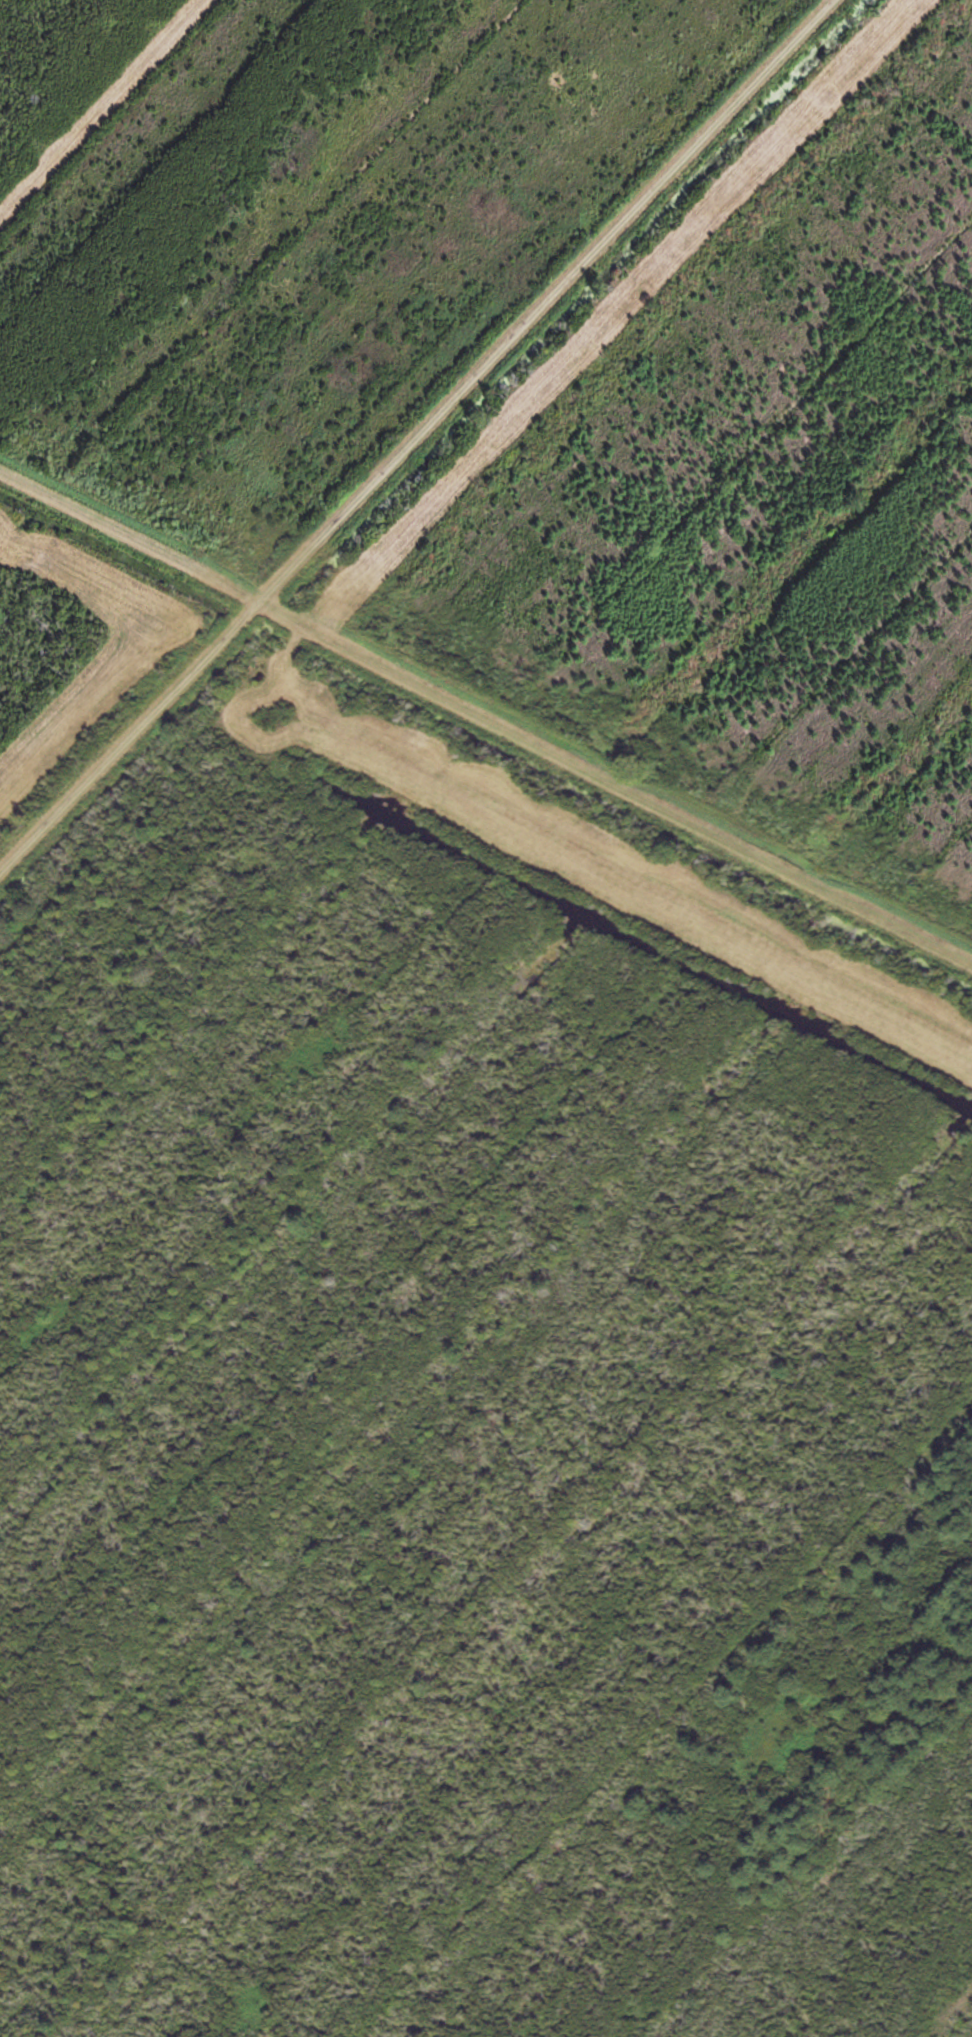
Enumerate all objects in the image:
road: (411, 434)
road: (485, 714)

